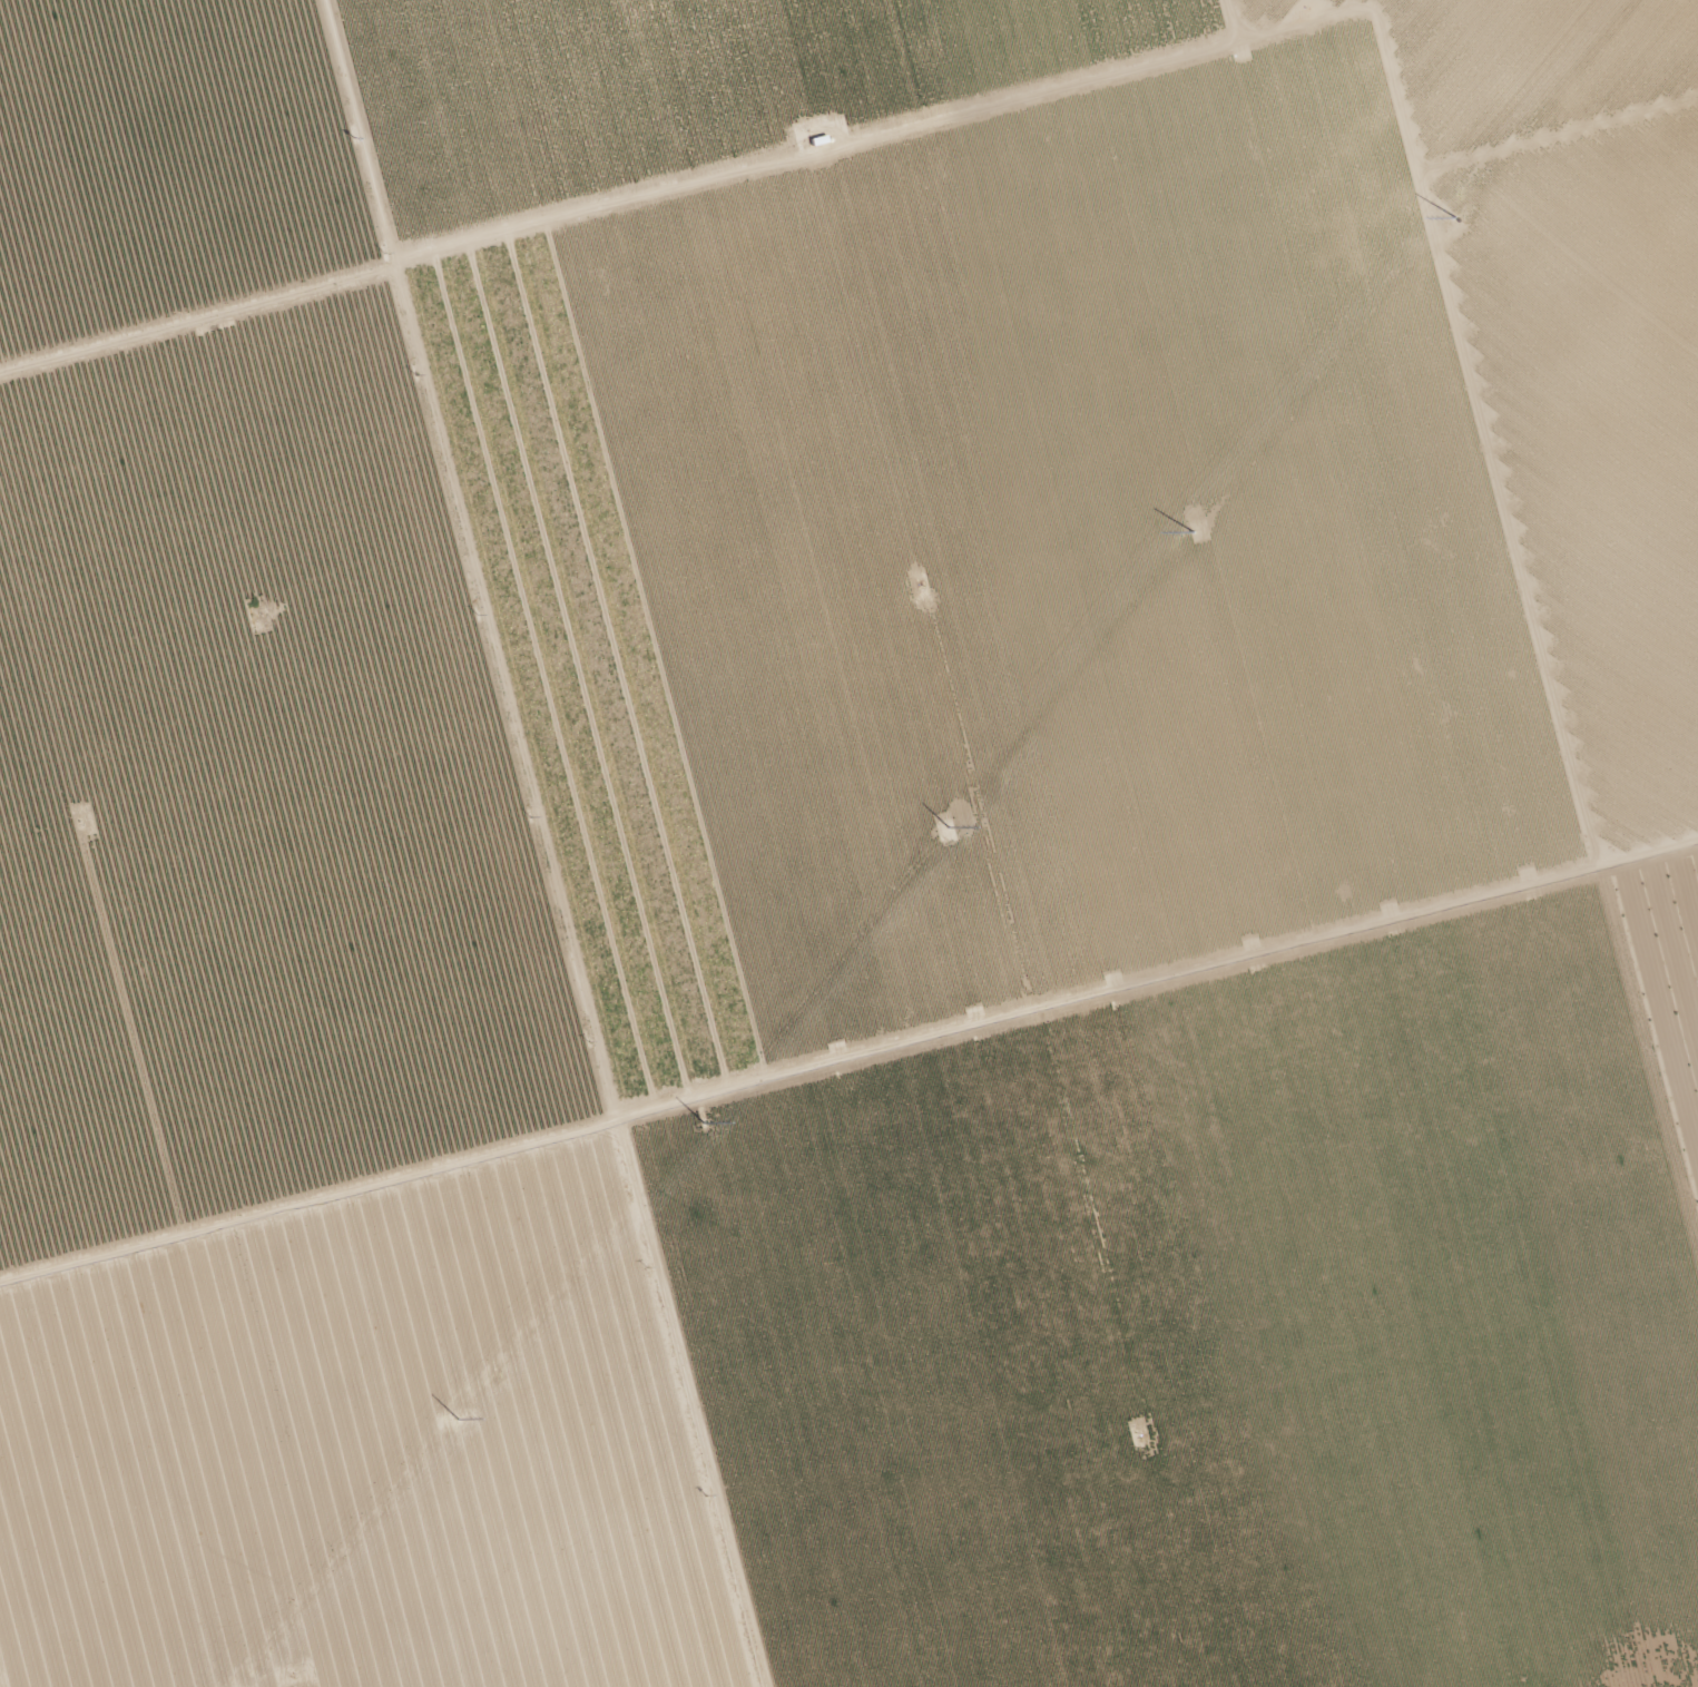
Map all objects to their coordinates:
power tower: (1445, 225)
power tower: (1199, 523)
power tower: (953, 823)
power tower: (709, 1115)
power tower: (463, 1412)

